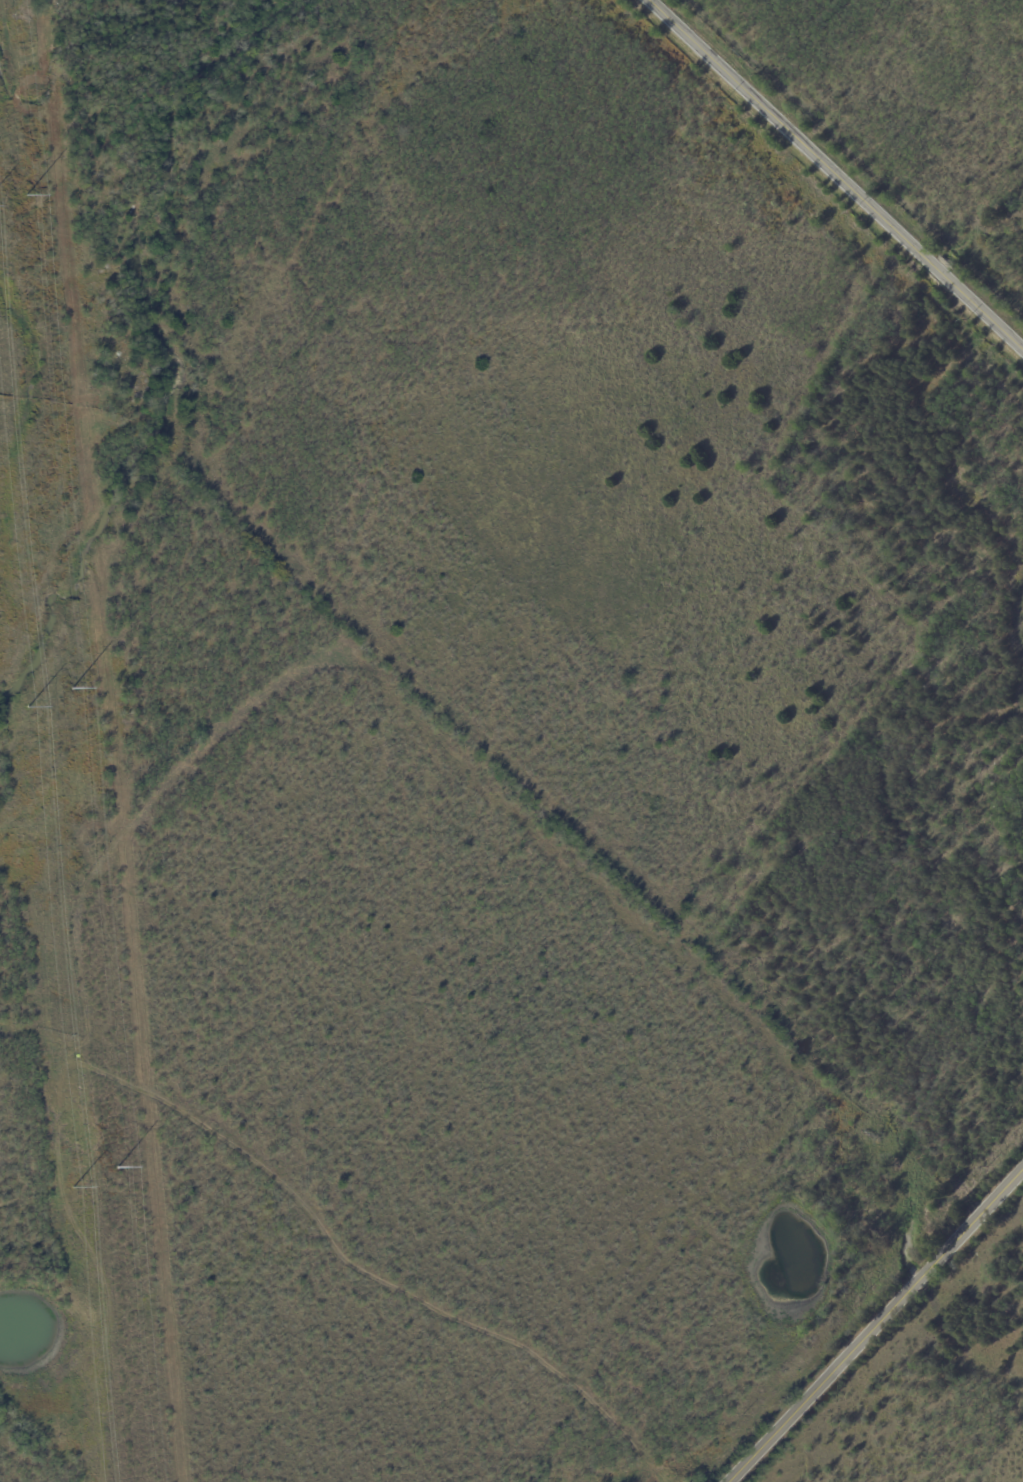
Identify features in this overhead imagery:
road: (834, 176)
road: (875, 1325)

